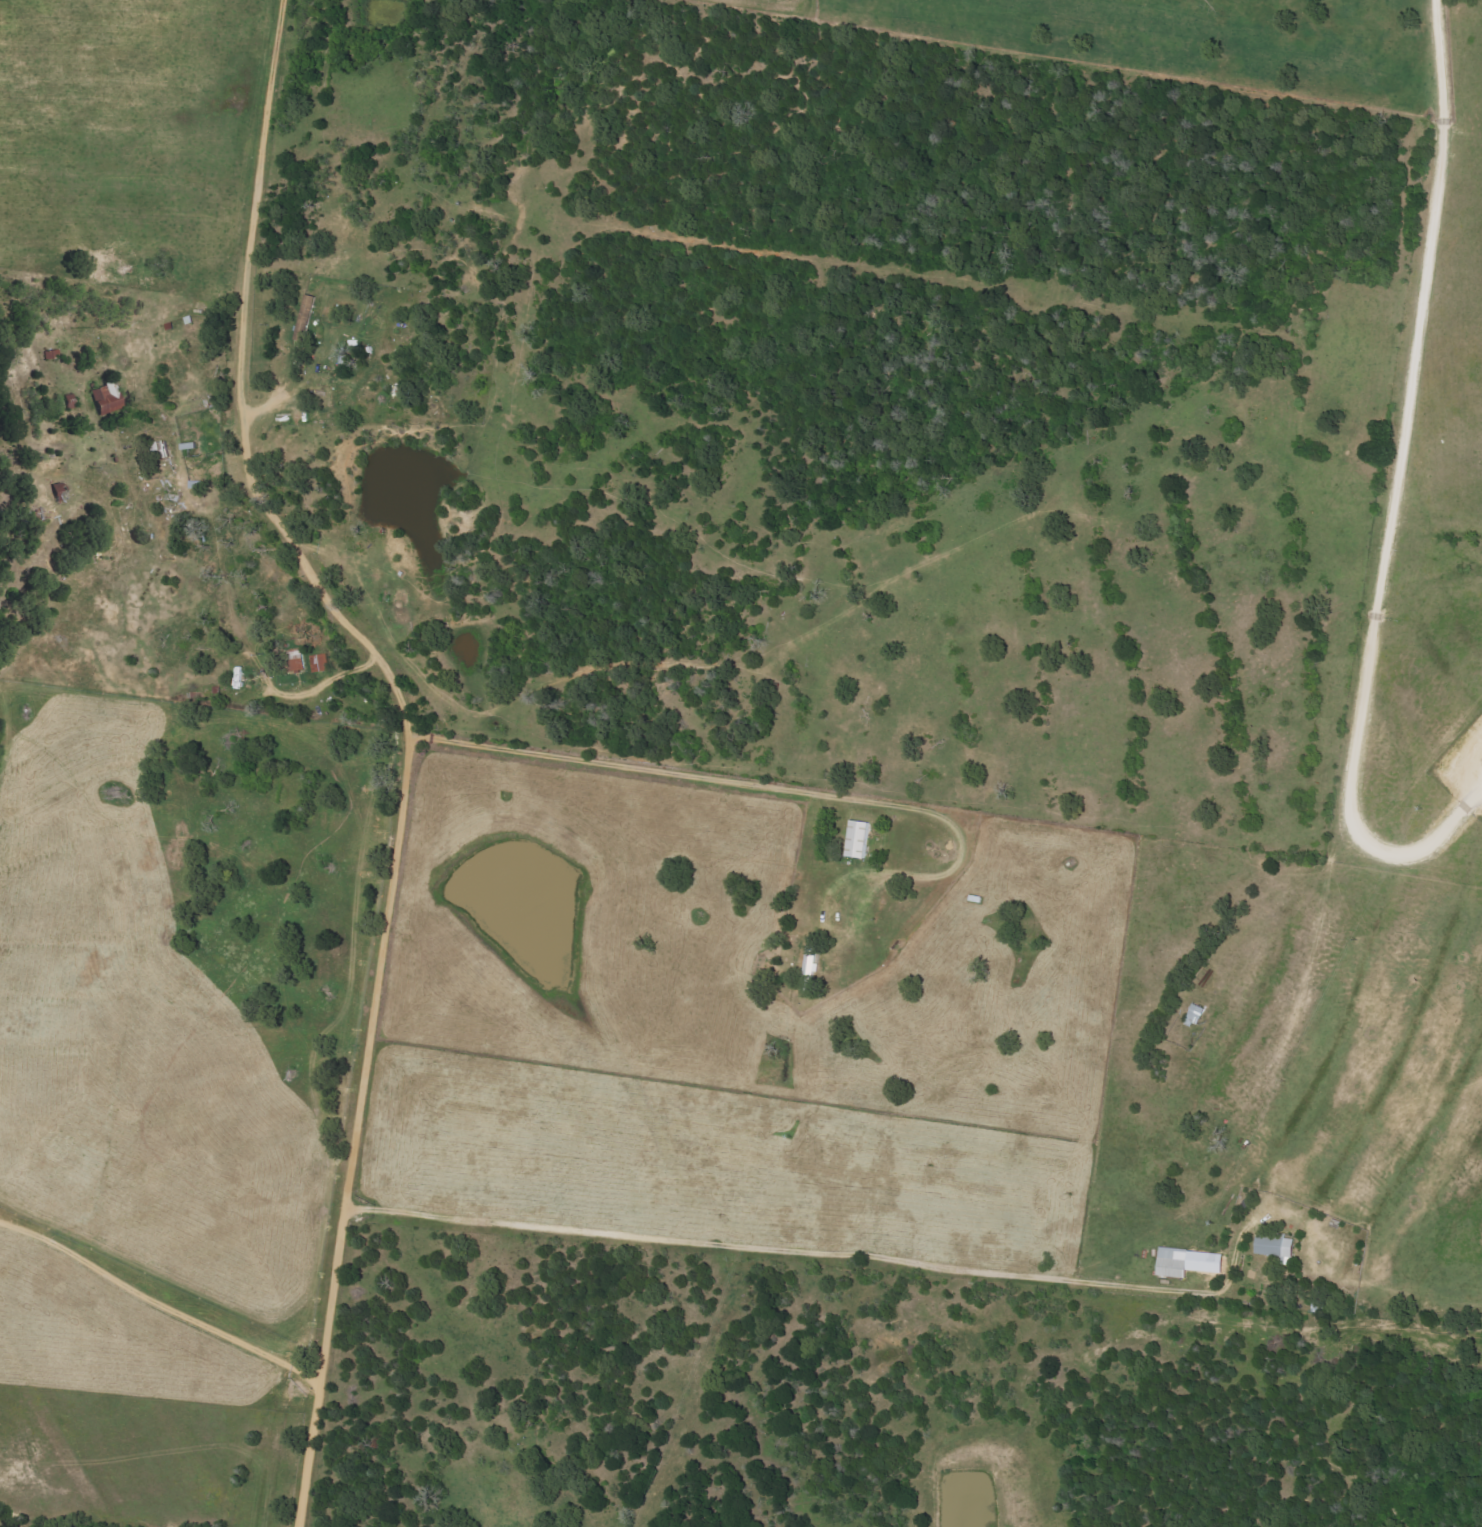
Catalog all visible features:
building: (109, 400)
road: (1390, 479)
building: (323, 664)
road: (408, 735)
road: (242, 740)
building: (856, 839)
building: (808, 967)
building: (1193, 1015)
building: (1272, 1245)
building: (1170, 1262)
road: (153, 1293)

